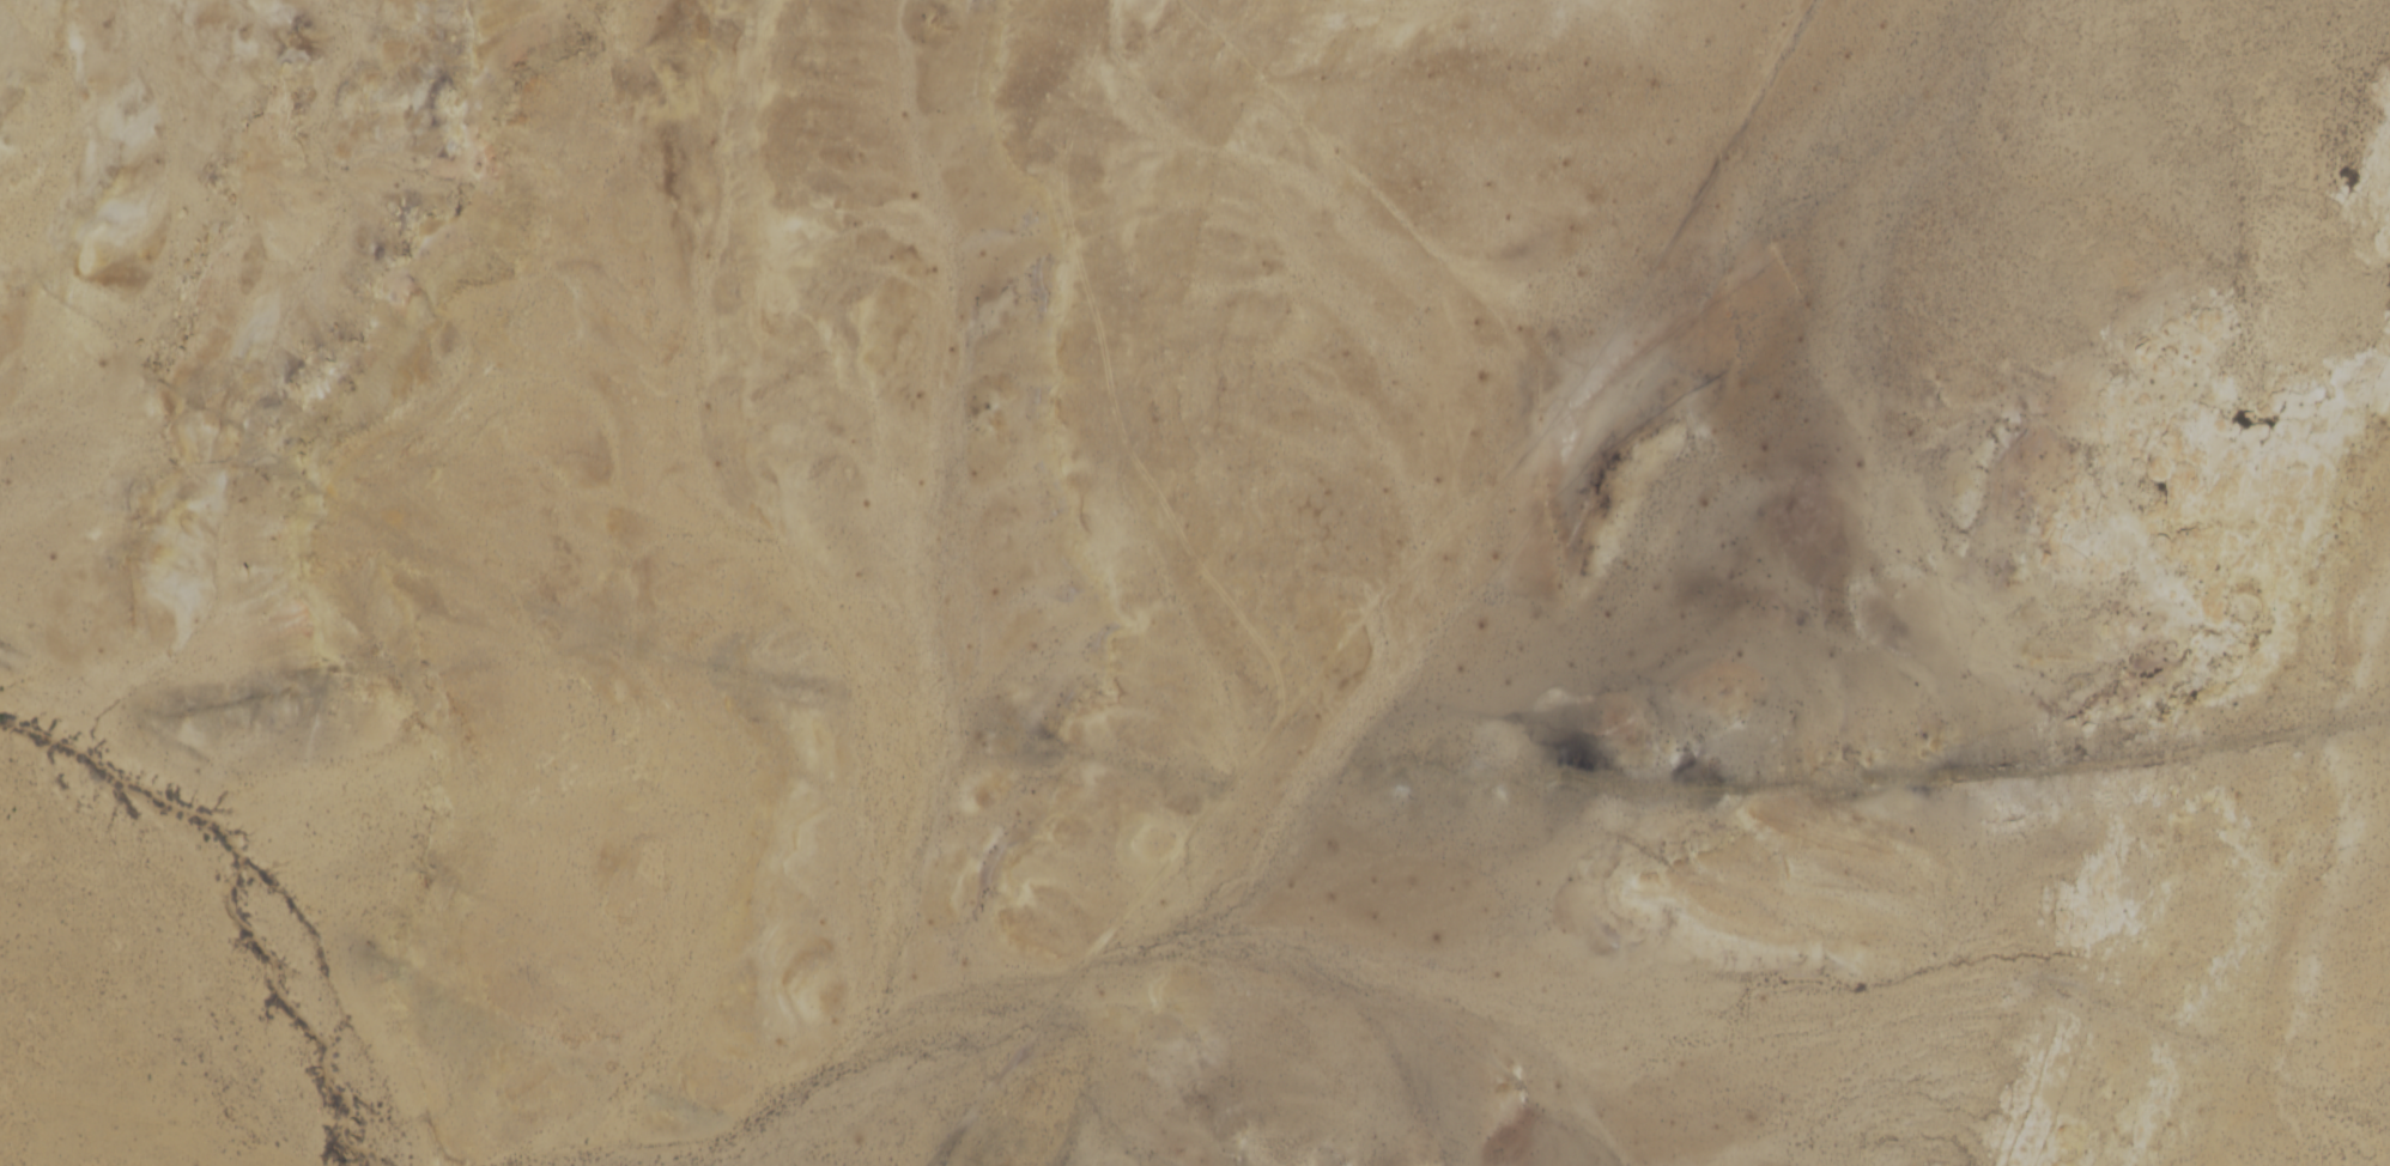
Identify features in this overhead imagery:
road: (1382, 599)

